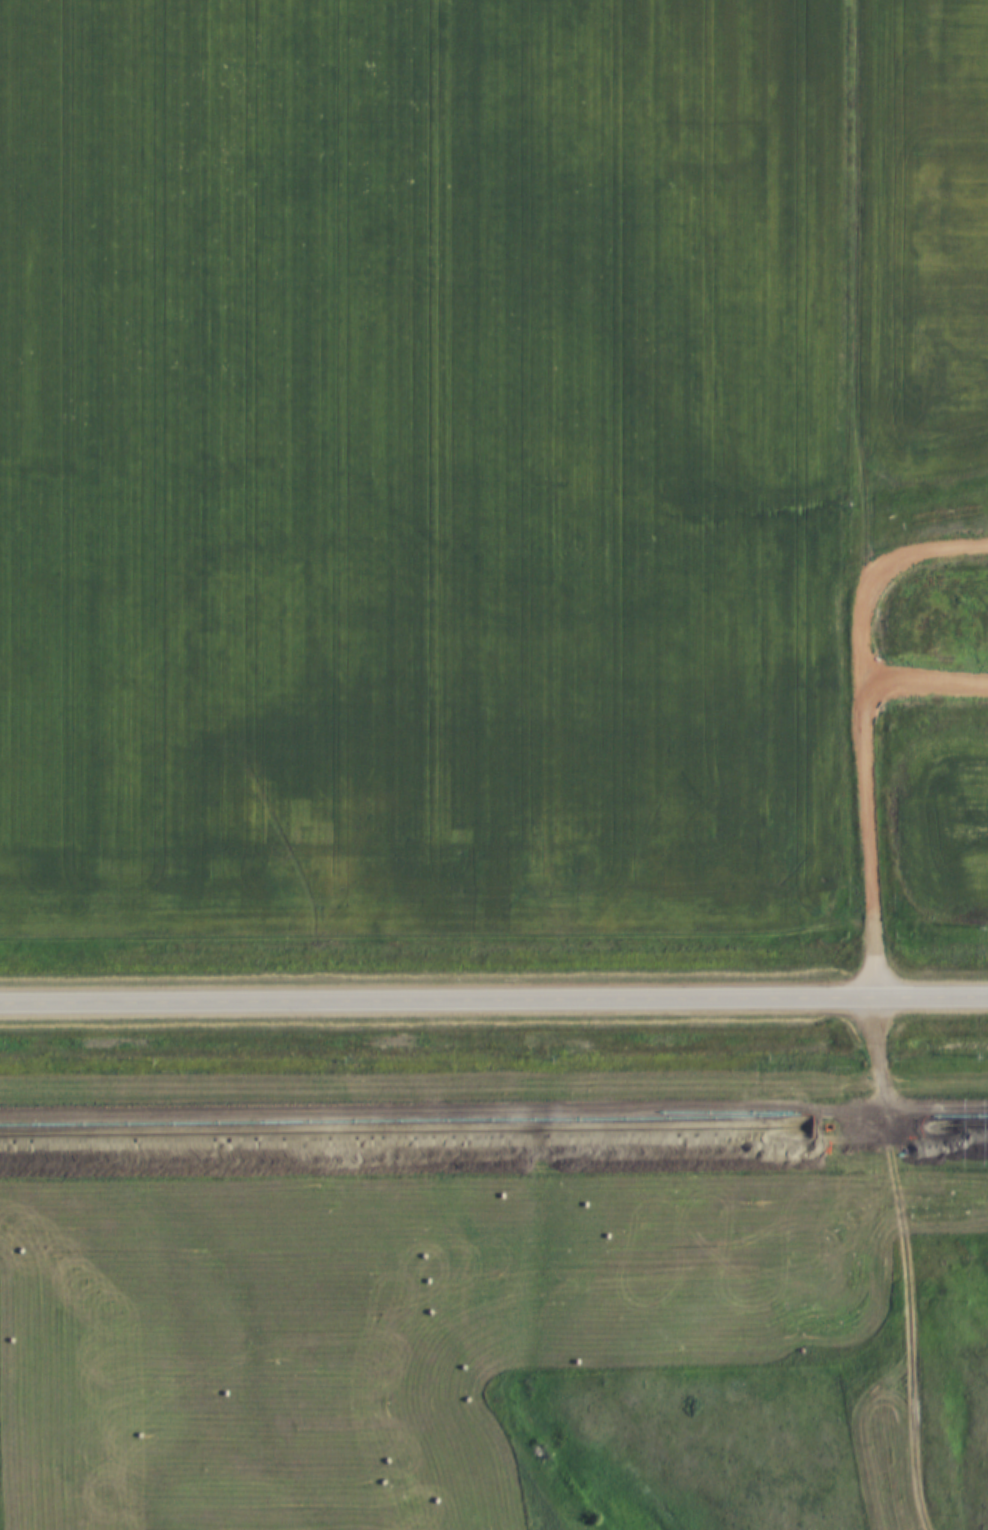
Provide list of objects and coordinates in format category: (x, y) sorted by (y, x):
road: (868, 766)
road: (493, 1002)

